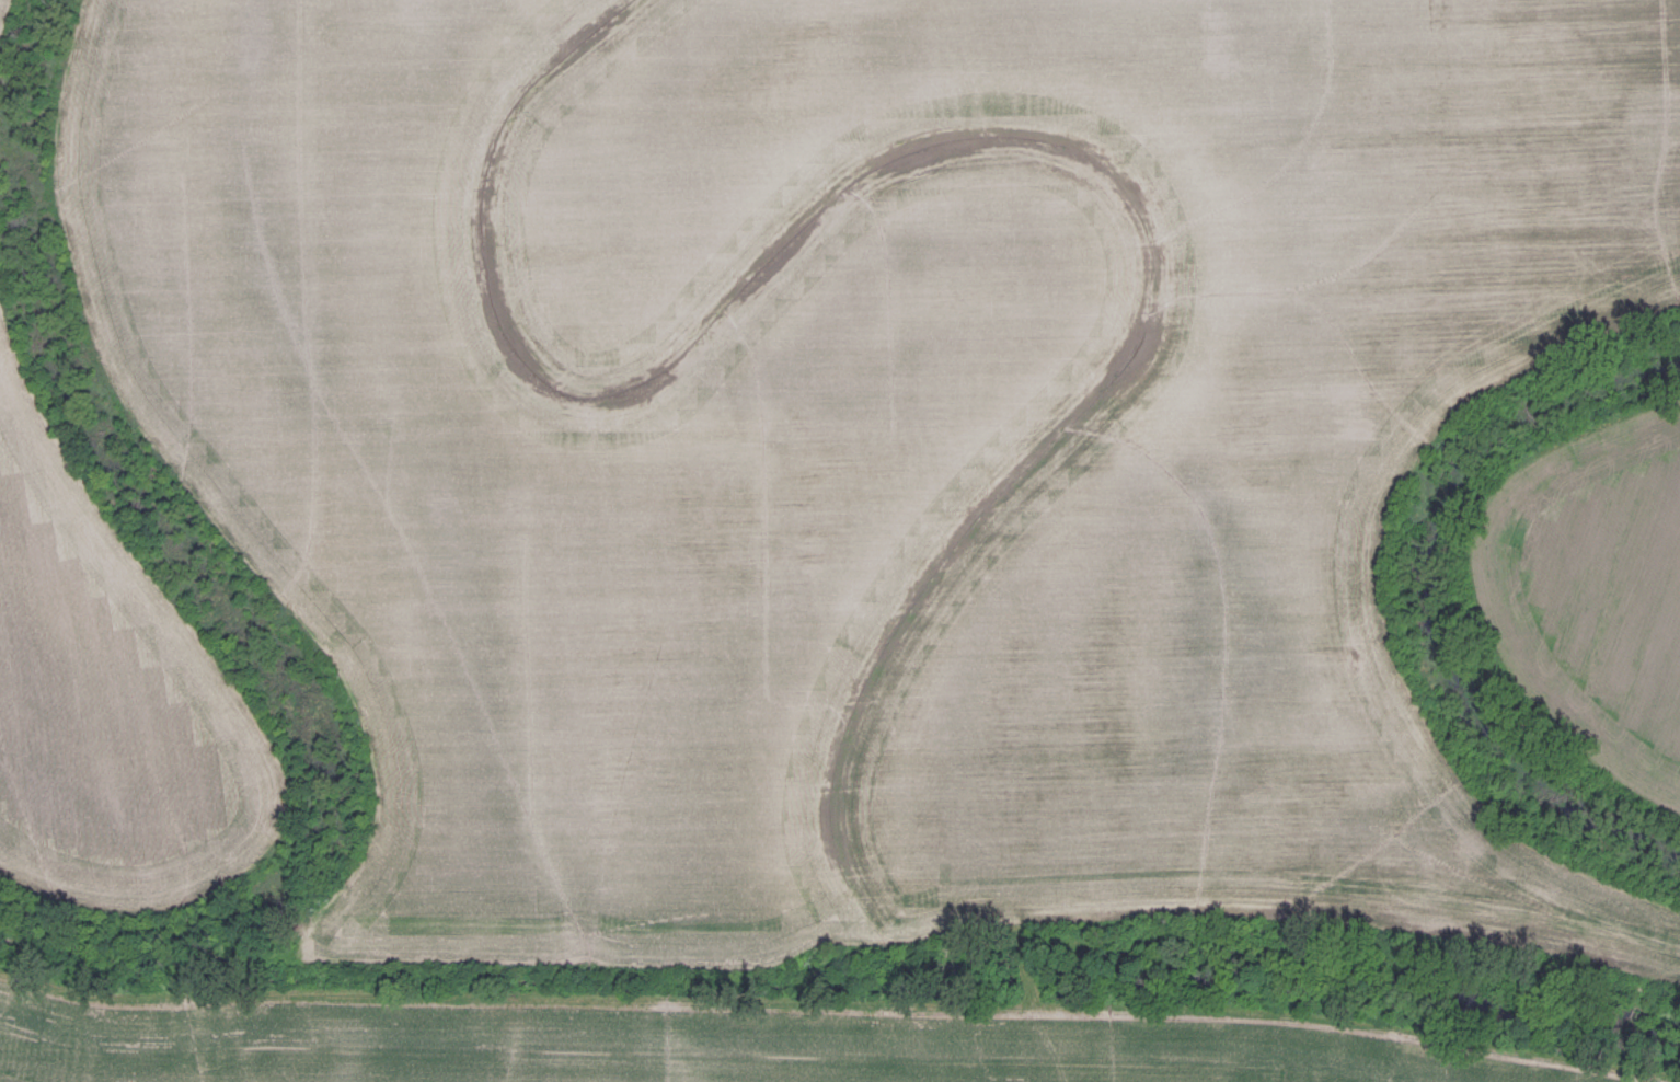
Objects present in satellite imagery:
road: (775, 1025)

